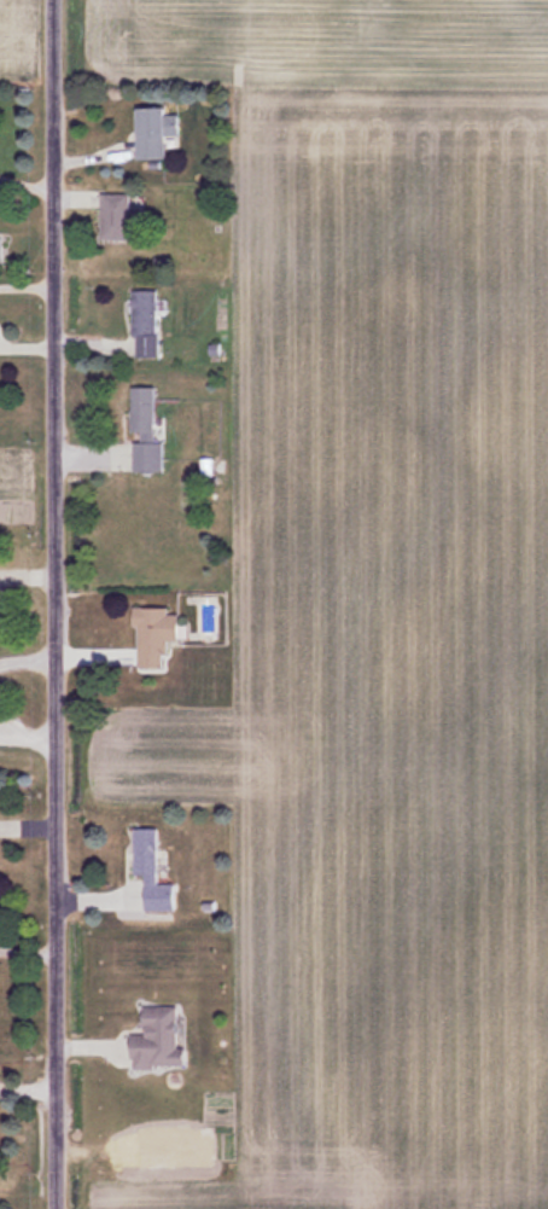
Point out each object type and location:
building: (156, 132)
building: (122, 217)
building: (2, 249)
building: (148, 322)
building: (150, 431)
road: (57, 604)
building: (159, 635)
building: (156, 871)
building: (163, 1039)

